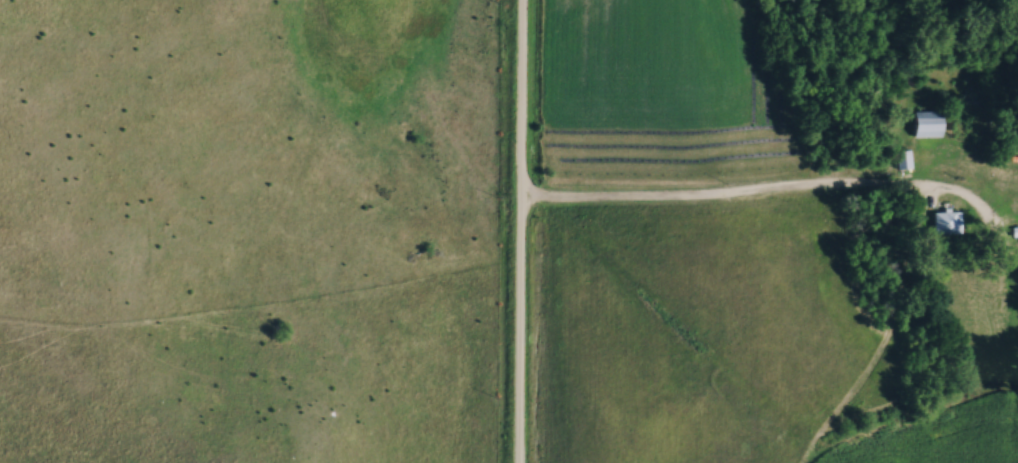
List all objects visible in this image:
road: (521, 84)
building: (926, 126)
building: (904, 159)
road: (724, 197)
building: (947, 222)

